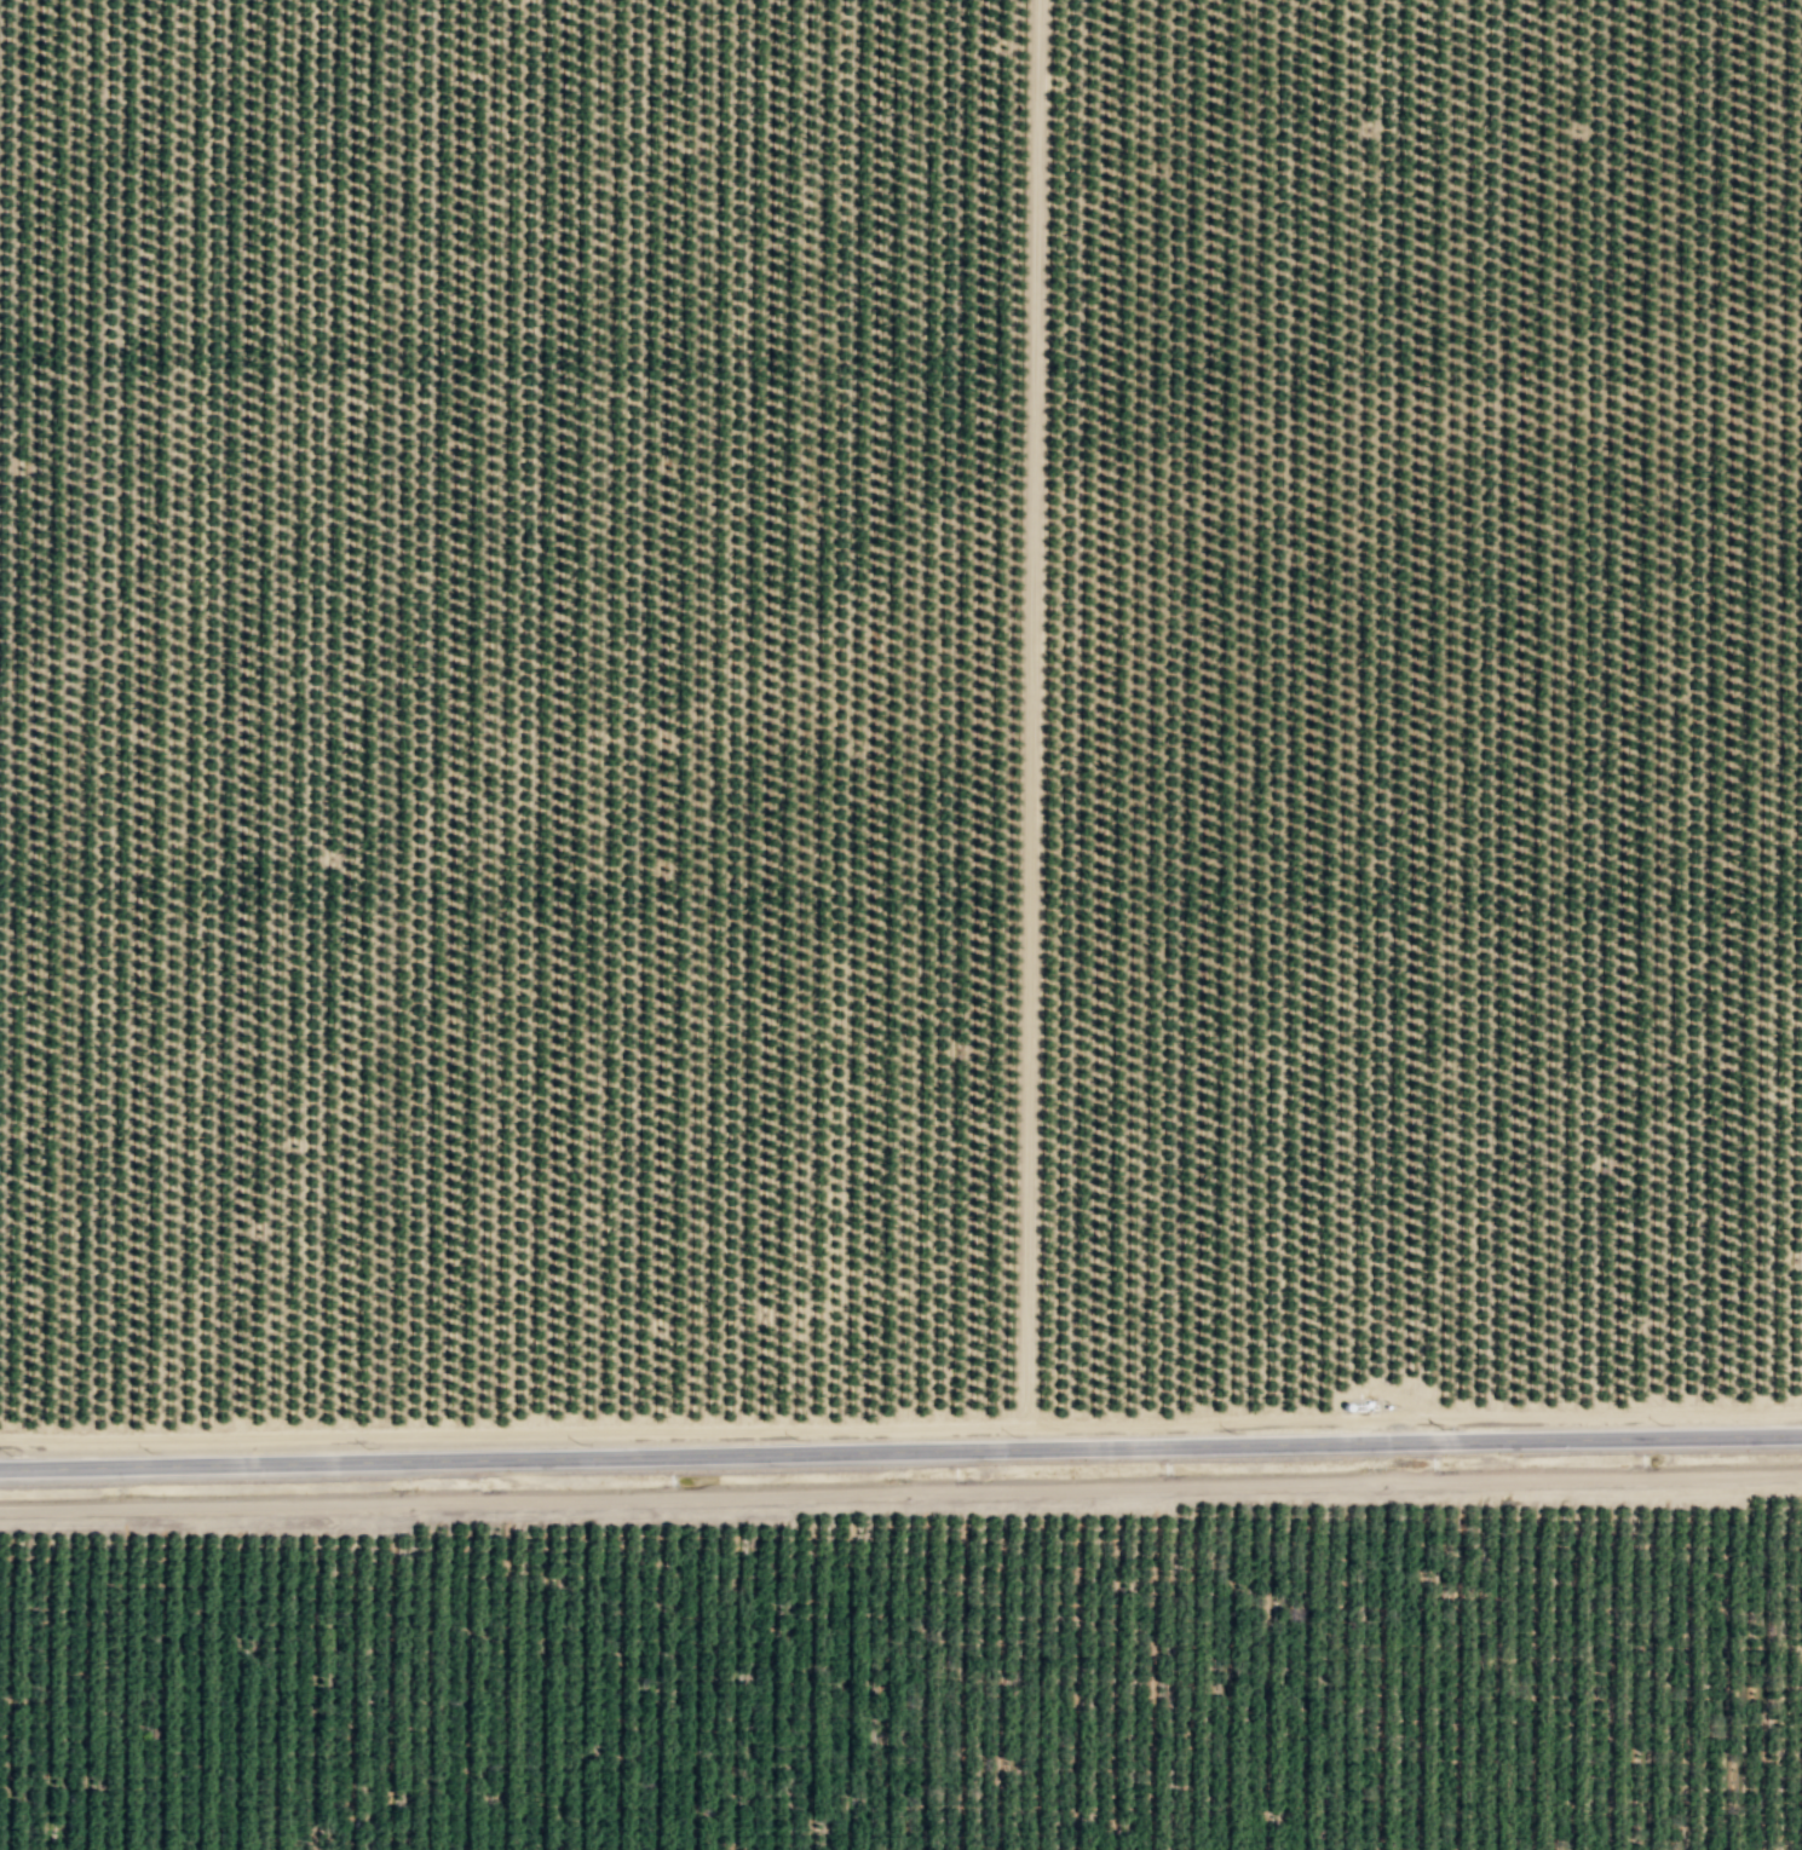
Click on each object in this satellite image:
road: (1031, 717)
road: (1388, 1417)
road: (910, 1427)
road: (900, 1451)
road: (900, 1492)

